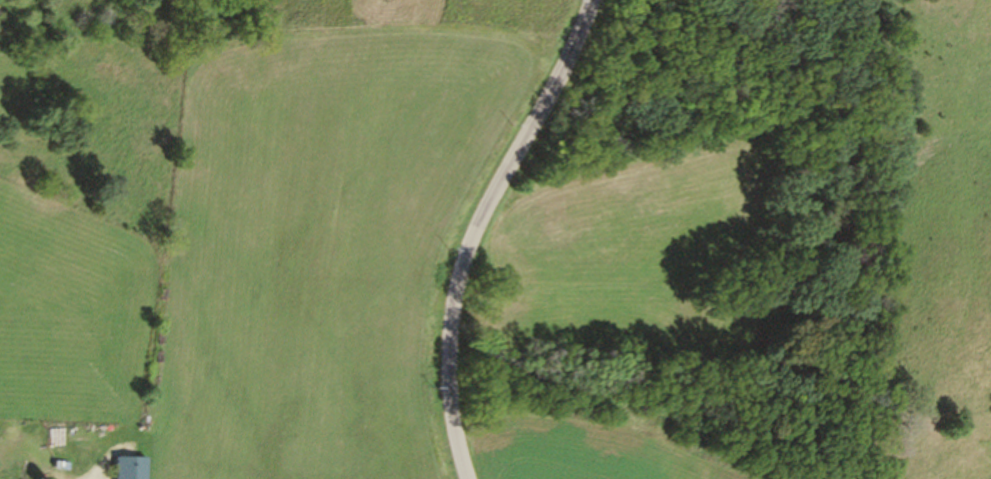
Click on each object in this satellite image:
road: (481, 228)

